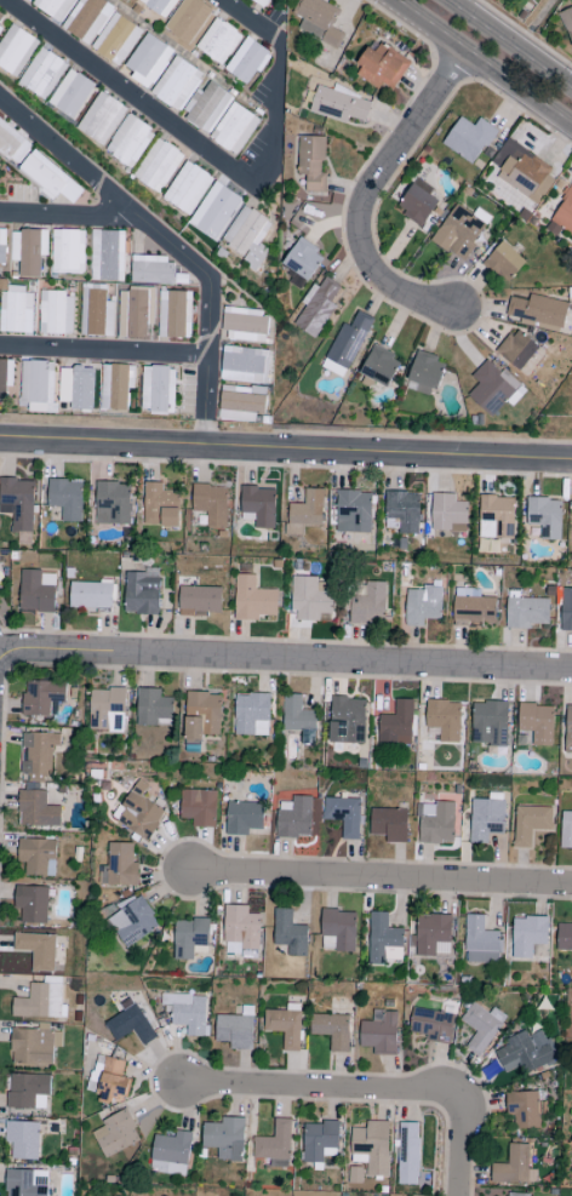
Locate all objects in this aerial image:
building: (28, 0)
building: (124, 1)
building: (261, 2)
building: (159, 6)
building: (53, 7)
building: (0, 16)
building: (86, 19)
building: (187, 19)
building: (322, 21)
building: (567, 22)
road: (532, 24)
building: (0, 28)
building: (115, 39)
building: (217, 41)
road: (508, 45)
building: (15, 50)
building: (147, 61)
building: (246, 61)
road: (484, 62)
building: (381, 68)
building: (41, 74)
building: (176, 84)
building: (70, 95)
building: (339, 105)
building: (206, 108)
building: (101, 119)
building: (234, 128)
building: (469, 139)
building: (128, 142)
building: (12, 143)
road: (212, 153)
building: (313, 162)
building: (156, 166)
building: (526, 172)
building: (48, 178)
building: (187, 188)
road: (371, 196)
building: (418, 205)
building: (215, 211)
building: (565, 214)
road: (69, 216)
building: (462, 231)
building: (247, 236)
road: (170, 244)
building: (2, 247)
building: (28, 251)
building: (67, 252)
building: (105, 254)
building: (303, 259)
building: (504, 263)
building: (151, 269)
building: (319, 309)
building: (16, 310)
building: (539, 310)
building: (95, 311)
building: (135, 311)
building: (55, 313)
building: (175, 314)
building: (244, 322)
building: (350, 341)
building: (517, 350)
road: (107, 354)
building: (244, 365)
building: (381, 366)
building: (427, 371)
building: (5, 376)
building: (35, 382)
building: (115, 387)
building: (75, 388)
building: (491, 389)
building: (156, 390)
building: (241, 404)
road: (286, 453)
building: (67, 499)
building: (210, 499)
building: (18, 502)
building: (113, 504)
building: (161, 505)
building: (259, 507)
building: (404, 511)
building: (307, 513)
building: (354, 513)
building: (447, 513)
building: (545, 516)
building: (497, 519)
building: (1, 590)
building: (36, 593)
building: (92, 595)
building: (142, 595)
building: (253, 600)
building: (200, 601)
building: (313, 603)
building: (370, 606)
building: (423, 606)
building: (474, 611)
building: (566, 611)
building: (527, 612)
road: (11, 659)
road: (299, 662)
building: (41, 697)
building: (107, 709)
building: (153, 709)
building: (297, 714)
building: (201, 715)
building: (252, 715)
building: (347, 720)
building: (444, 720)
building: (490, 723)
building: (537, 723)
building: (396, 726)
building: (568, 729)
building: (38, 752)
building: (199, 807)
building: (36, 809)
building: (138, 812)
building: (343, 816)
building: (242, 818)
building: (294, 818)
building: (485, 819)
building: (435, 823)
building: (530, 824)
building: (389, 825)
building: (566, 830)
building: (36, 857)
building: (119, 866)
road: (383, 880)
building: (32, 904)
building: (132, 922)
building: (241, 929)
building: (337, 931)
building: (288, 933)
building: (527, 935)
building: (189, 937)
building: (382, 938)
building: (564, 938)
building: (480, 942)
building: (36, 950)
building: (40, 1002)
building: (188, 1013)
building: (130, 1024)
building: (431, 1025)
building: (285, 1026)
building: (481, 1028)
building: (331, 1030)
building: (234, 1031)
building: (379, 1032)
building: (34, 1046)
building: (526, 1052)
road: (308, 1089)
building: (28, 1092)
building: (522, 1110)
road: (464, 1133)
building: (115, 1134)
building: (225, 1138)
building: (23, 1140)
building: (319, 1140)
building: (274, 1144)
building: (371, 1148)
building: (408, 1154)
building: (170, 1155)
building: (514, 1167)
building: (25, 1183)
building: (517, 1195)

